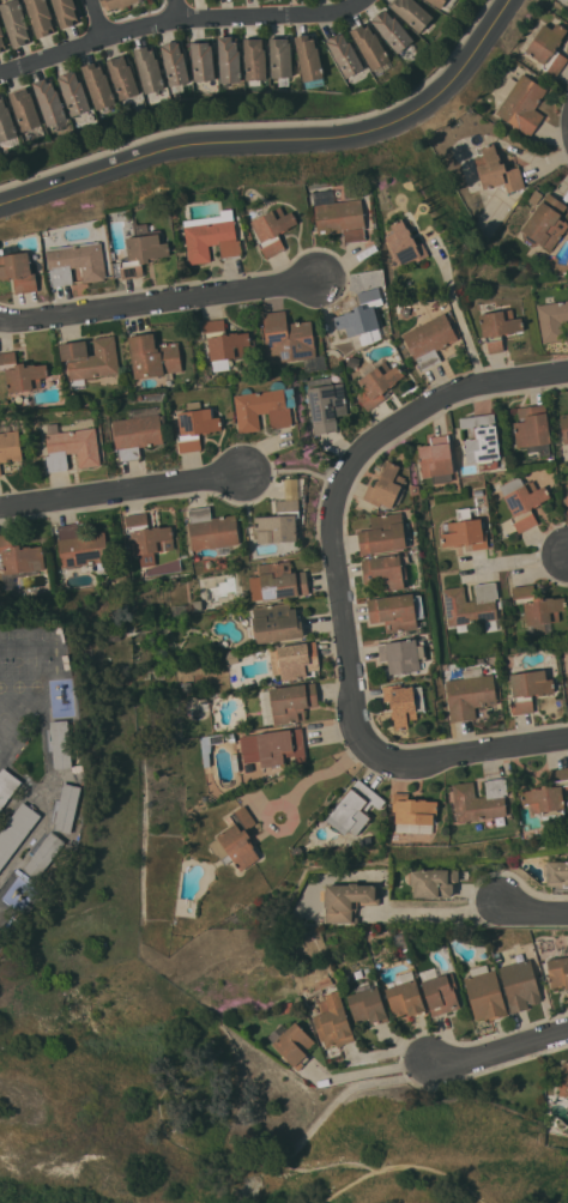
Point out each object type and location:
building: (117, 4)
building: (442, 4)
building: (567, 4)
road: (176, 8)
building: (65, 12)
building: (411, 12)
building: (40, 17)
road: (179, 17)
road: (97, 18)
building: (14, 22)
building: (392, 30)
building: (1, 38)
building: (546, 46)
building: (371, 48)
building: (344, 54)
building: (229, 59)
building: (254, 60)
building: (280, 60)
building: (309, 60)
building: (203, 61)
building: (174, 65)
building: (147, 68)
building: (122, 77)
building: (98, 86)
building: (73, 92)
building: (50, 103)
building: (521, 103)
building: (24, 109)
building: (6, 127)
road: (284, 145)
building: (491, 173)
building: (534, 197)
building: (339, 216)
building: (545, 223)
building: (272, 229)
building: (212, 236)
building: (405, 243)
building: (143, 249)
building: (77, 262)
building: (18, 271)
road: (161, 298)
building: (405, 312)
road: (458, 312)
building: (361, 316)
building: (552, 320)
building: (497, 326)
building: (331, 333)
building: (288, 338)
building: (429, 339)
building: (223, 343)
building: (153, 356)
building: (90, 359)
building: (352, 361)
building: (20, 373)
building: (376, 381)
road: (452, 393)
building: (325, 403)
building: (264, 406)
building: (564, 427)
building: (195, 428)
building: (532, 429)
building: (138, 431)
building: (482, 440)
building: (72, 445)
building: (10, 446)
building: (436, 460)
building: (0, 472)
building: (567, 482)
building: (387, 486)
road: (123, 491)
building: (478, 491)
building: (522, 501)
building: (280, 516)
building: (212, 530)
building: (385, 533)
building: (465, 533)
building: (146, 538)
building: (81, 546)
road: (516, 558)
building: (18, 562)
building: (386, 572)
building: (277, 581)
building: (195, 605)
building: (537, 605)
building: (471, 606)
building: (180, 610)
building: (395, 611)
building: (274, 623)
building: (111, 636)
building: (231, 655)
building: (401, 655)
building: (294, 660)
building: (232, 682)
building: (527, 689)
building: (470, 693)
building: (288, 702)
building: (403, 703)
road: (354, 706)
building: (230, 736)
building: (61, 743)
building: (210, 745)
building: (273, 746)
road: (320, 776)
building: (7, 785)
building: (548, 796)
building: (479, 799)
building: (67, 808)
building: (355, 808)
building: (413, 814)
building: (17, 830)
building: (236, 840)
building: (365, 841)
building: (296, 851)
building: (44, 856)
building: (556, 873)
building: (433, 882)
building: (349, 900)
road: (532, 912)
road: (431, 913)
building: (558, 972)
building: (328, 979)
building: (520, 984)
building: (439, 991)
building: (485, 992)
building: (405, 995)
building: (367, 1005)
building: (333, 1021)
building: (291, 1042)
road: (498, 1052)
road: (367, 1071)
building: (563, 1078)
park: (187, 1094)
road: (314, 1128)
road: (429, 1165)
road: (346, 1191)

